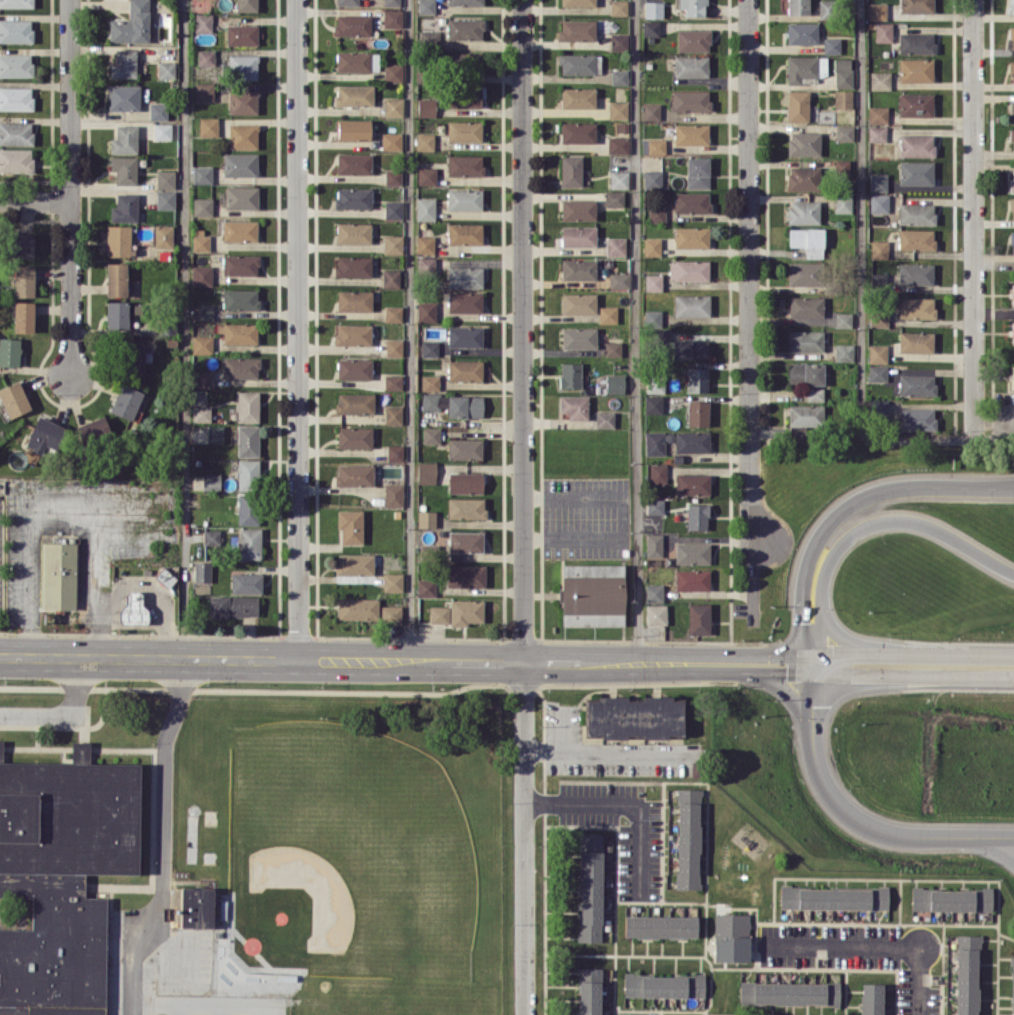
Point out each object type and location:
building: (346, 2)
building: (391, 2)
building: (464, 2)
building: (577, 2)
building: (15, 3)
building: (246, 5)
building: (425, 6)
building: (916, 6)
building: (1012, 6)
building: (618, 7)
building: (693, 7)
building: (797, 7)
building: (653, 9)
building: (876, 11)
building: (392, 18)
building: (203, 22)
building: (131, 24)
building: (352, 24)
building: (464, 28)
building: (650, 28)
building: (577, 29)
building: (15, 30)
building: (883, 32)
building: (802, 33)
building: (241, 34)
building: (1011, 37)
building: (693, 40)
building: (618, 41)
building: (915, 42)
building: (831, 45)
building: (206, 57)
building: (356, 61)
building: (577, 63)
building: (123, 64)
building: (16, 65)
building: (243, 66)
building: (690, 66)
building: (804, 67)
building: (166, 69)
building: (915, 70)
building: (1011, 71)
building: (392, 72)
building: (843, 72)
building: (619, 76)
building: (880, 80)
building: (204, 91)
building: (353, 95)
building: (123, 97)
building: (464, 97)
building: (578, 97)
building: (16, 98)
building: (842, 98)
road: (70, 100)
building: (690, 100)
building: (243, 101)
building: (915, 104)
building: (393, 106)
building: (797, 106)
building: (426, 107)
building: (618, 110)
building: (158, 111)
building: (651, 111)
building: (1012, 111)
building: (877, 114)
building: (208, 126)
building: (621, 128)
building: (353, 129)
building: (464, 130)
building: (162, 131)
building: (578, 132)
building: (844, 132)
building: (16, 133)
building: (876, 133)
building: (691, 134)
building: (243, 135)
building: (1011, 136)
building: (124, 139)
building: (391, 141)
building: (425, 141)
building: (803, 143)
building: (618, 144)
building: (916, 145)
building: (653, 146)
building: (16, 160)
building: (354, 163)
building: (240, 164)
building: (465, 165)
building: (841, 167)
building: (124, 169)
building: (571, 170)
building: (697, 172)
building: (916, 172)
building: (202, 174)
building: (426, 175)
building: (393, 177)
building: (802, 177)
building: (165, 178)
building: (619, 179)
building: (652, 179)
building: (1012, 180)
building: (878, 182)
building: (241, 197)
building: (353, 197)
building: (614, 198)
building: (165, 199)
building: (464, 199)
road: (35, 200)
building: (691, 202)
building: (843, 202)
building: (878, 203)
building: (202, 206)
building: (124, 208)
building: (425, 208)
building: (1012, 208)
building: (393, 209)
building: (578, 209)
building: (803, 212)
building: (656, 213)
building: (916, 213)
road: (862, 219)
road: (975, 219)
building: (239, 230)
building: (353, 232)
building: (464, 233)
building: (578, 235)
building: (162, 236)
building: (691, 236)
building: (916, 239)
building: (117, 240)
building: (807, 240)
building: (200, 242)
building: (1012, 242)
building: (393, 243)
building: (21, 244)
building: (424, 244)
building: (615, 246)
building: (652, 246)
building: (879, 249)
building: (240, 264)
building: (426, 265)
building: (353, 266)
building: (578, 268)
building: (688, 270)
building: (802, 273)
building: (915, 273)
building: (202, 275)
building: (464, 276)
building: (391, 277)
building: (116, 279)
building: (618, 280)
building: (24, 281)
building: (653, 282)
road: (71, 288)
building: (1012, 294)
building: (240, 298)
building: (354, 300)
building: (464, 301)
building: (578, 303)
building: (691, 305)
building: (806, 306)
building: (916, 307)
building: (204, 311)
building: (426, 311)
building: (393, 313)
building: (607, 314)
building: (117, 315)
road: (749, 315)
building: (23, 316)
building: (652, 317)
building: (843, 319)
building: (878, 319)
road: (184, 328)
road: (297, 329)
road: (411, 330)
road: (639, 330)
building: (240, 332)
building: (1012, 332)
building: (352, 334)
building: (465, 336)
building: (578, 337)
building: (659, 337)
building: (805, 340)
building: (915, 341)
building: (202, 344)
building: (393, 347)
building: (429, 348)
building: (612, 348)
building: (689, 349)
building: (9, 351)
building: (844, 352)
building: (877, 353)
building: (132, 356)
building: (240, 367)
building: (354, 368)
building: (464, 370)
building: (806, 373)
building: (877, 373)
building: (570, 375)
building: (1012, 376)
building: (203, 378)
building: (696, 379)
building: (393, 382)
building: (430, 382)
building: (614, 383)
building: (655, 383)
building: (916, 384)
building: (814, 394)
building: (13, 399)
building: (125, 401)
building: (432, 401)
building: (354, 403)
building: (653, 404)
building: (247, 406)
building: (465, 406)
building: (574, 406)
building: (878, 408)
building: (697, 412)
building: (201, 413)
building: (393, 414)
building: (805, 415)
building: (917, 418)
building: (604, 419)
building: (215, 434)
building: (431, 435)
building: (45, 436)
building: (354, 437)
building: (247, 440)
building: (689, 440)
road: (941, 440)
building: (654, 442)
building: (465, 448)
building: (394, 452)
building: (426, 472)
building: (657, 473)
building: (248, 474)
building: (354, 474)
building: (211, 481)
building: (465, 482)
building: (692, 483)
building: (393, 494)
road: (62, 497)
road: (852, 504)
building: (654, 505)
road: (523, 507)
building: (466, 508)
building: (248, 509)
building: (697, 516)
building: (426, 519)
road: (874, 523)
building: (350, 525)
building: (212, 536)
building: (465, 541)
building: (653, 541)
building: (250, 543)
building: (691, 553)
building: (354, 563)
building: (202, 571)
road: (27, 575)
building: (60, 575)
building: (466, 575)
road: (94, 576)
building: (692, 579)
building: (393, 581)
building: (246, 582)
building: (426, 587)
road: (150, 588)
building: (653, 592)
building: (592, 594)
building: (233, 606)
building: (132, 608)
building: (357, 608)
building: (465, 611)
building: (391, 614)
building: (439, 614)
building: (655, 614)
building: (699, 618)
traffic signals: (801, 622)
road: (842, 637)
traffic signals: (832, 650)
road: (907, 651)
road: (774, 654)
road: (373, 659)
road: (806, 662)
road: (815, 662)
traffic signals: (786, 672)
road: (880, 676)
road: (779, 686)
traffic signals: (811, 705)
road: (65, 713)
building: (634, 717)
road: (565, 727)
road: (605, 750)
road: (629, 802)
road: (855, 820)
road: (160, 838)
building: (688, 838)
road: (999, 846)
building: (60, 878)
building: (590, 887)
building: (833, 897)
building: (951, 899)
building: (196, 907)
building: (660, 926)
building: (730, 937)
road: (873, 945)
building: (966, 974)
building: (663, 985)
building: (1012, 985)
building: (588, 991)
building: (789, 993)
building: (870, 999)
road: (638, 1013)

